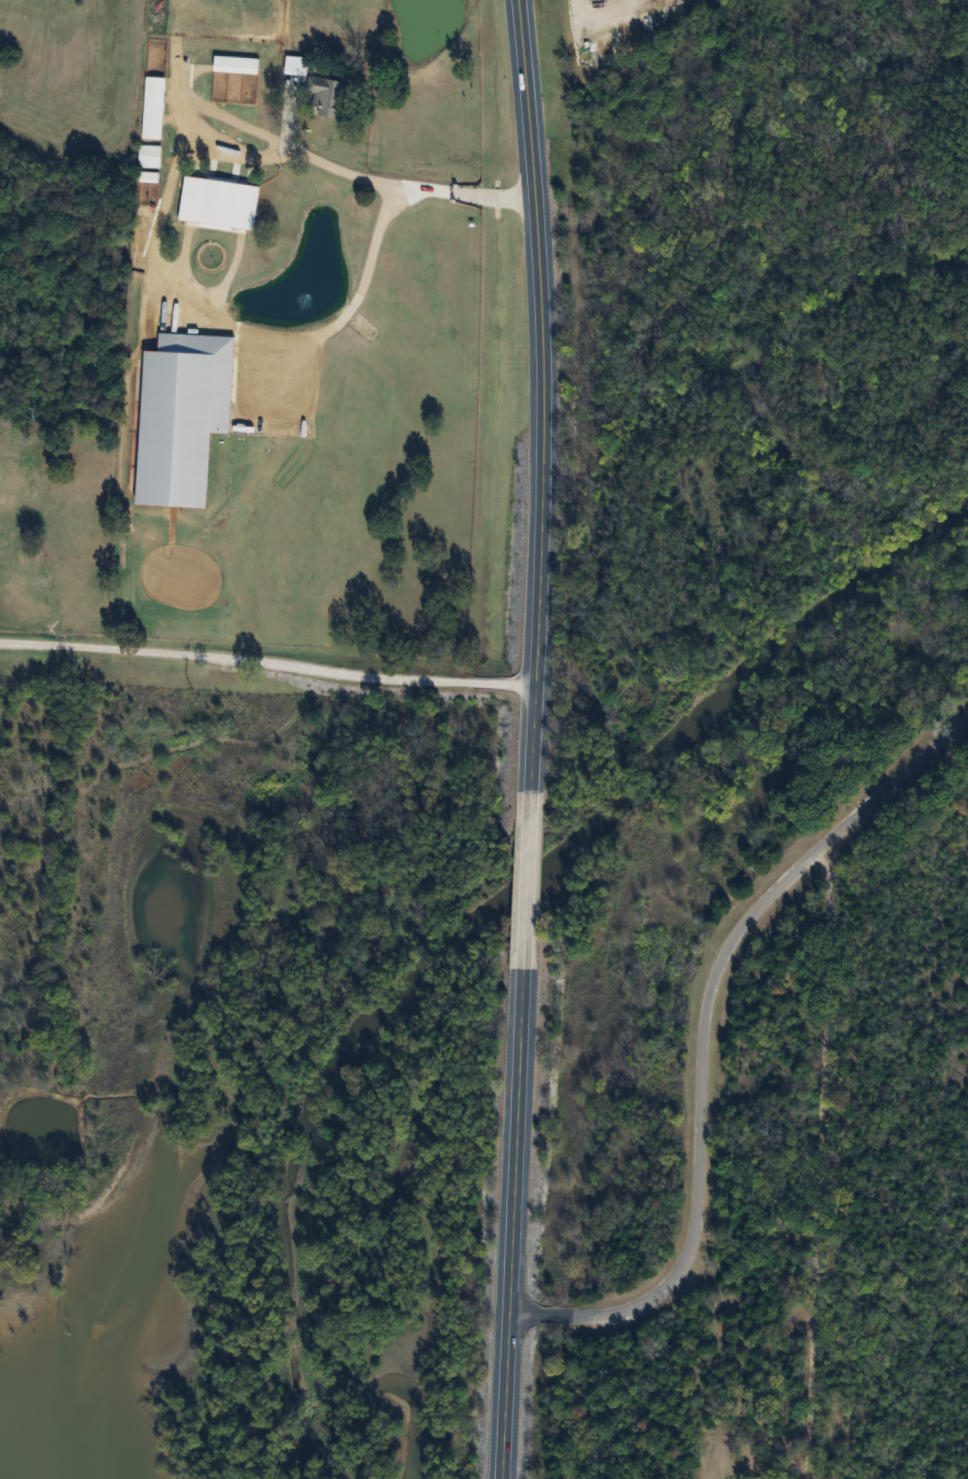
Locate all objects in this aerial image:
road: (606, 20)
building: (236, 64)
building: (296, 65)
building: (155, 94)
building: (327, 96)
building: (150, 156)
road: (348, 171)
building: (149, 177)
building: (219, 202)
road: (378, 236)
road: (544, 393)
road: (267, 662)
road: (526, 879)
road: (703, 1034)
road: (820, 1165)
road: (511, 1225)

